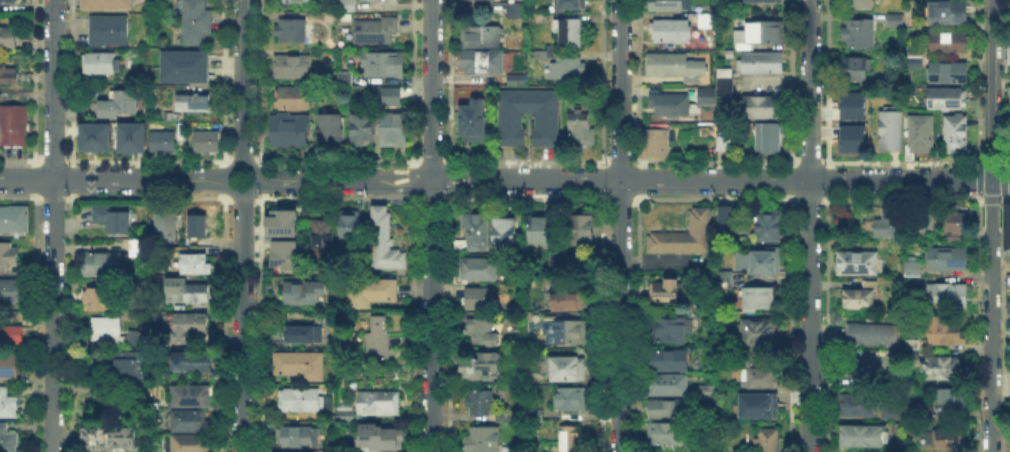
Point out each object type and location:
building: (9, 1)
building: (763, 1)
building: (297, 2)
building: (861, 4)
building: (109, 5)
building: (571, 5)
building: (348, 6)
building: (667, 6)
building: (511, 9)
building: (947, 13)
building: (897, 21)
building: (198, 22)
building: (707, 22)
building: (111, 31)
building: (292, 31)
building: (376, 32)
building: (672, 32)
building: (761, 34)
building: (574, 35)
building: (861, 35)
building: (9, 38)
building: (483, 39)
building: (949, 44)
building: (1007, 53)
building: (913, 56)
building: (483, 63)
building: (103, 64)
building: (765, 64)
building: (184, 65)
building: (385, 65)
building: (563, 66)
building: (674, 66)
building: (294, 67)
building: (856, 67)
building: (949, 74)
building: (14, 75)
building: (345, 80)
building: (518, 81)
road: (242, 83)
building: (726, 83)
road: (53, 89)
road: (430, 90)
road: (621, 90)
road: (990, 90)
building: (393, 97)
building: (292, 98)
building: (574, 98)
building: (708, 98)
building: (948, 100)
building: (195, 102)
building: (1009, 102)
building: (851, 105)
building: (122, 106)
building: (671, 106)
building: (763, 108)
building: (473, 119)
building: (14, 126)
building: (583, 127)
building: (364, 129)
building: (290, 130)
building: (332, 130)
building: (892, 130)
building: (394, 131)
building: (547, 131)
building: (957, 134)
building: (921, 135)
building: (130, 136)
building: (98, 138)
building: (850, 138)
building: (769, 139)
building: (163, 142)
building: (208, 144)
building: (724, 144)
building: (656, 145)
road: (114, 179)
road: (322, 180)
road: (409, 180)
road: (451, 180)
road: (740, 180)
road: (249, 192)
building: (113, 219)
building: (15, 220)
building: (280, 221)
building: (724, 221)
building: (958, 221)
building: (766, 224)
building: (889, 224)
building: (199, 225)
building: (351, 225)
road: (808, 225)
building: (924, 226)
building: (166, 227)
building: (1005, 227)
building: (584, 229)
building: (542, 231)
building: (476, 232)
building: (507, 234)
building: (290, 237)
building: (685, 237)
building: (324, 239)
building: (385, 239)
building: (141, 248)
building: (8, 254)
building: (283, 254)
building: (757, 259)
road: (654, 260)
building: (948, 261)
building: (106, 264)
building: (570, 264)
building: (858, 264)
building: (196, 265)
building: (478, 269)
building: (914, 270)
building: (722, 277)
building: (374, 290)
building: (303, 292)
building: (670, 292)
building: (17, 294)
building: (194, 294)
building: (862, 297)
building: (947, 297)
building: (481, 298)
building: (759, 299)
building: (98, 300)
building: (571, 301)
building: (1009, 307)
road: (53, 315)
road: (430, 316)
road: (619, 316)
road: (989, 316)
building: (192, 323)
road: (243, 323)
building: (105, 329)
building: (673, 330)
building: (483, 332)
building: (568, 332)
building: (759, 332)
building: (948, 333)
building: (11, 335)
building: (306, 335)
building: (873, 335)
building: (1008, 335)
building: (134, 339)
building: (379, 339)
building: (913, 349)
building: (670, 359)
building: (193, 362)
building: (11, 365)
building: (130, 365)
building: (302, 365)
building: (484, 366)
building: (876, 368)
building: (574, 370)
building: (942, 370)
building: (764, 380)
building: (670, 384)
building: (708, 394)
building: (192, 397)
building: (572, 400)
building: (301, 401)
building: (375, 401)
building: (480, 403)
building: (942, 404)
building: (9, 405)
building: (758, 405)
building: (860, 406)
building: (670, 409)
building: (893, 413)
building: (343, 414)
building: (506, 418)
building: (189, 421)
building: (668, 435)
building: (378, 436)
building: (293, 437)
building: (863, 437)
building: (567, 438)
building: (7, 439)
building: (110, 439)
building: (484, 440)
building: (949, 440)
building: (769, 441)
building: (190, 444)
building: (282, 451)
building: (300, 451)

